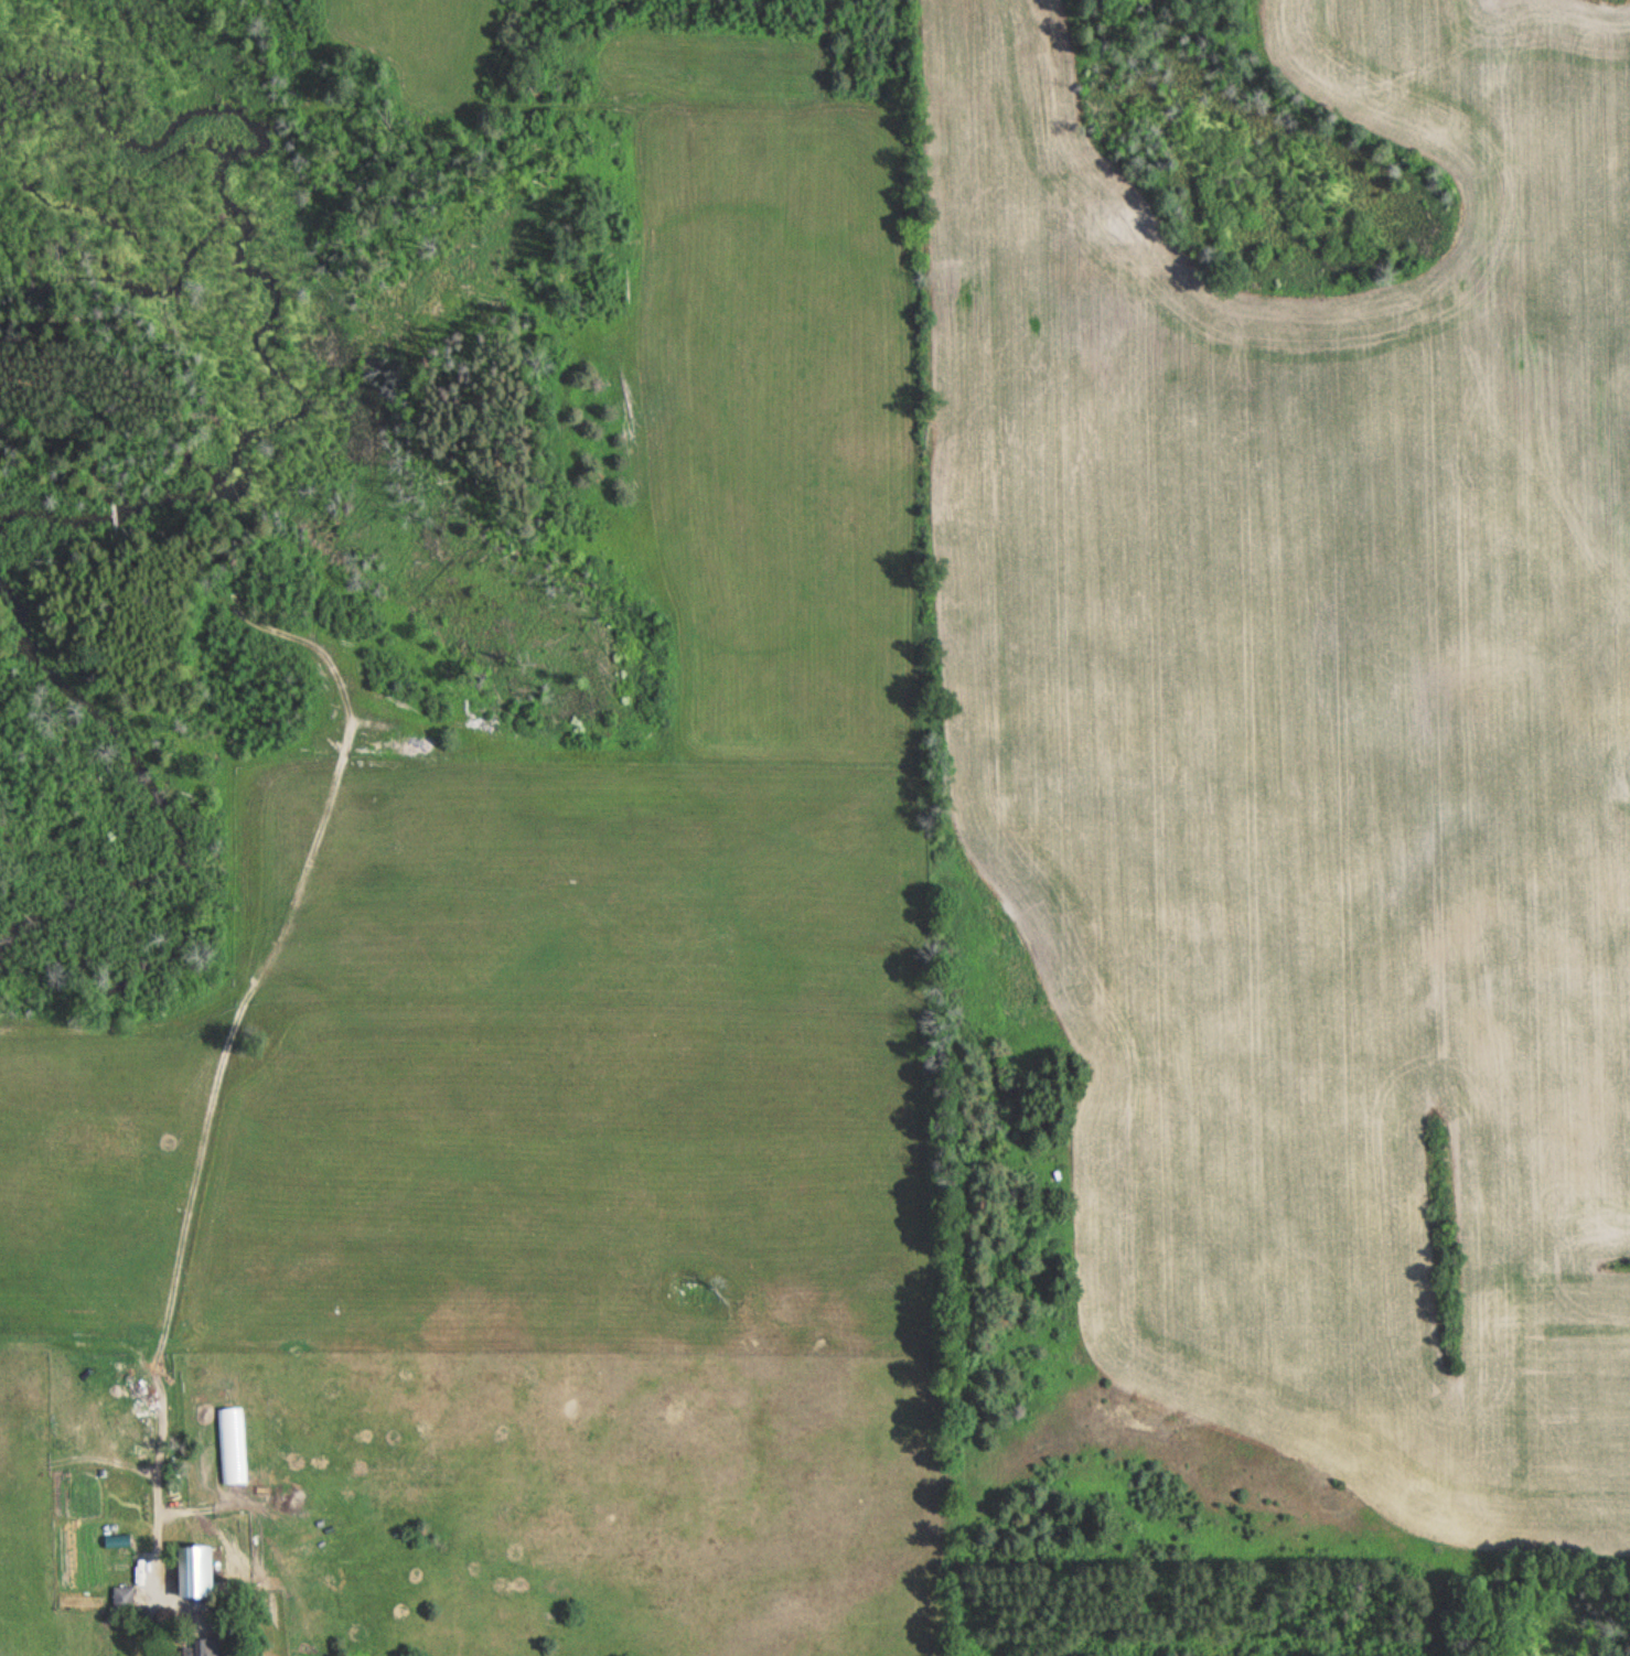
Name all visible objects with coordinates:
building: (194, 1572)
road: (148, 1626)
building: (196, 1648)

